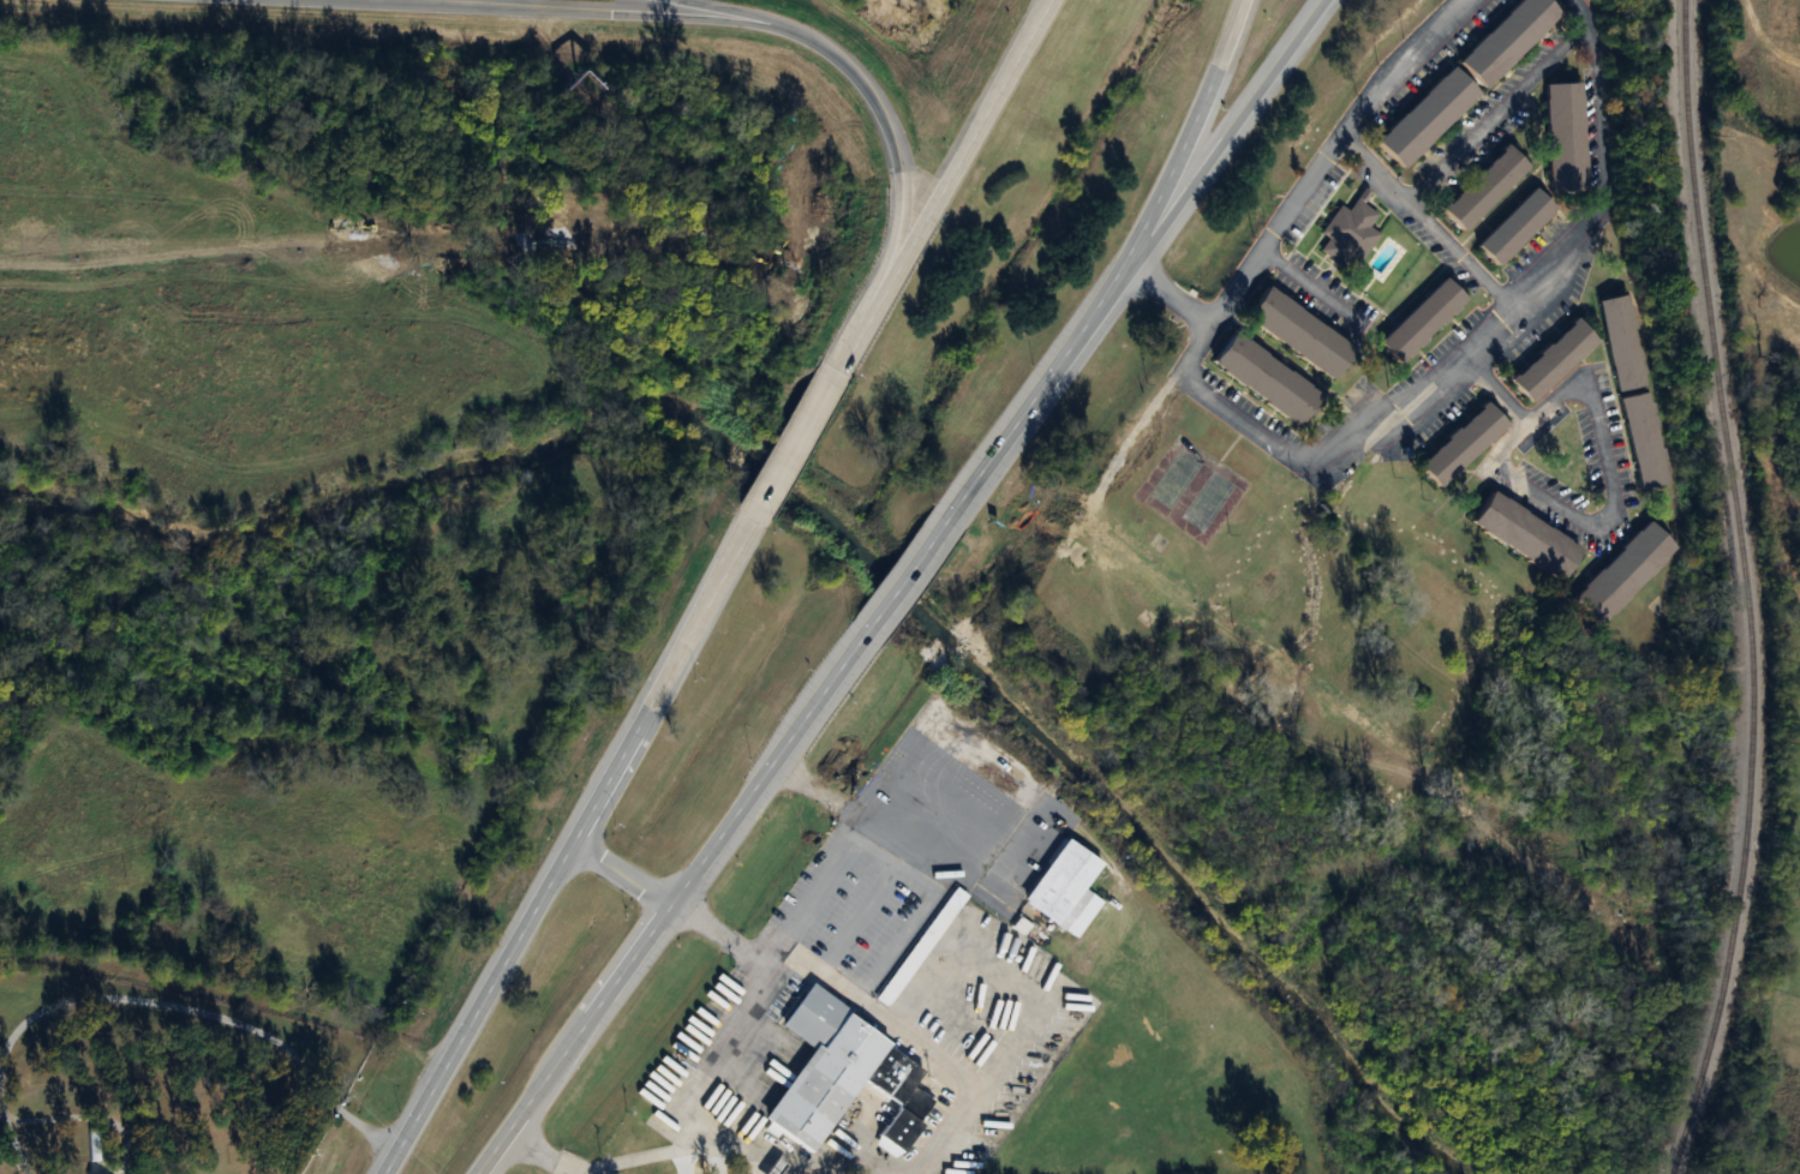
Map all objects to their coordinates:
road: (538, 11)
road: (716, 11)
building: (1511, 40)
road: (1597, 100)
road: (1499, 114)
building: (1430, 116)
road: (1194, 131)
road: (1231, 131)
building: (1569, 138)
road: (893, 144)
road: (1316, 175)
building: (1488, 187)
road: (940, 192)
road: (1425, 227)
building: (1518, 227)
building: (1350, 234)
road: (1303, 278)
road: (1162, 294)
building: (1424, 321)
building: (1302, 334)
building: (1555, 360)
building: (1268, 379)
road: (1040, 387)
road: (1497, 387)
building: (1638, 396)
road: (1404, 406)
building: (1464, 444)
road: (795, 454)
road: (1610, 479)
building: (1529, 537)
road: (908, 573)
building: (1627, 573)
railway: (1746, 589)
road: (578, 849)
road: (624, 877)
building: (1063, 882)
road: (672, 902)
road: (718, 935)
road: (741, 1010)
building: (845, 1074)

